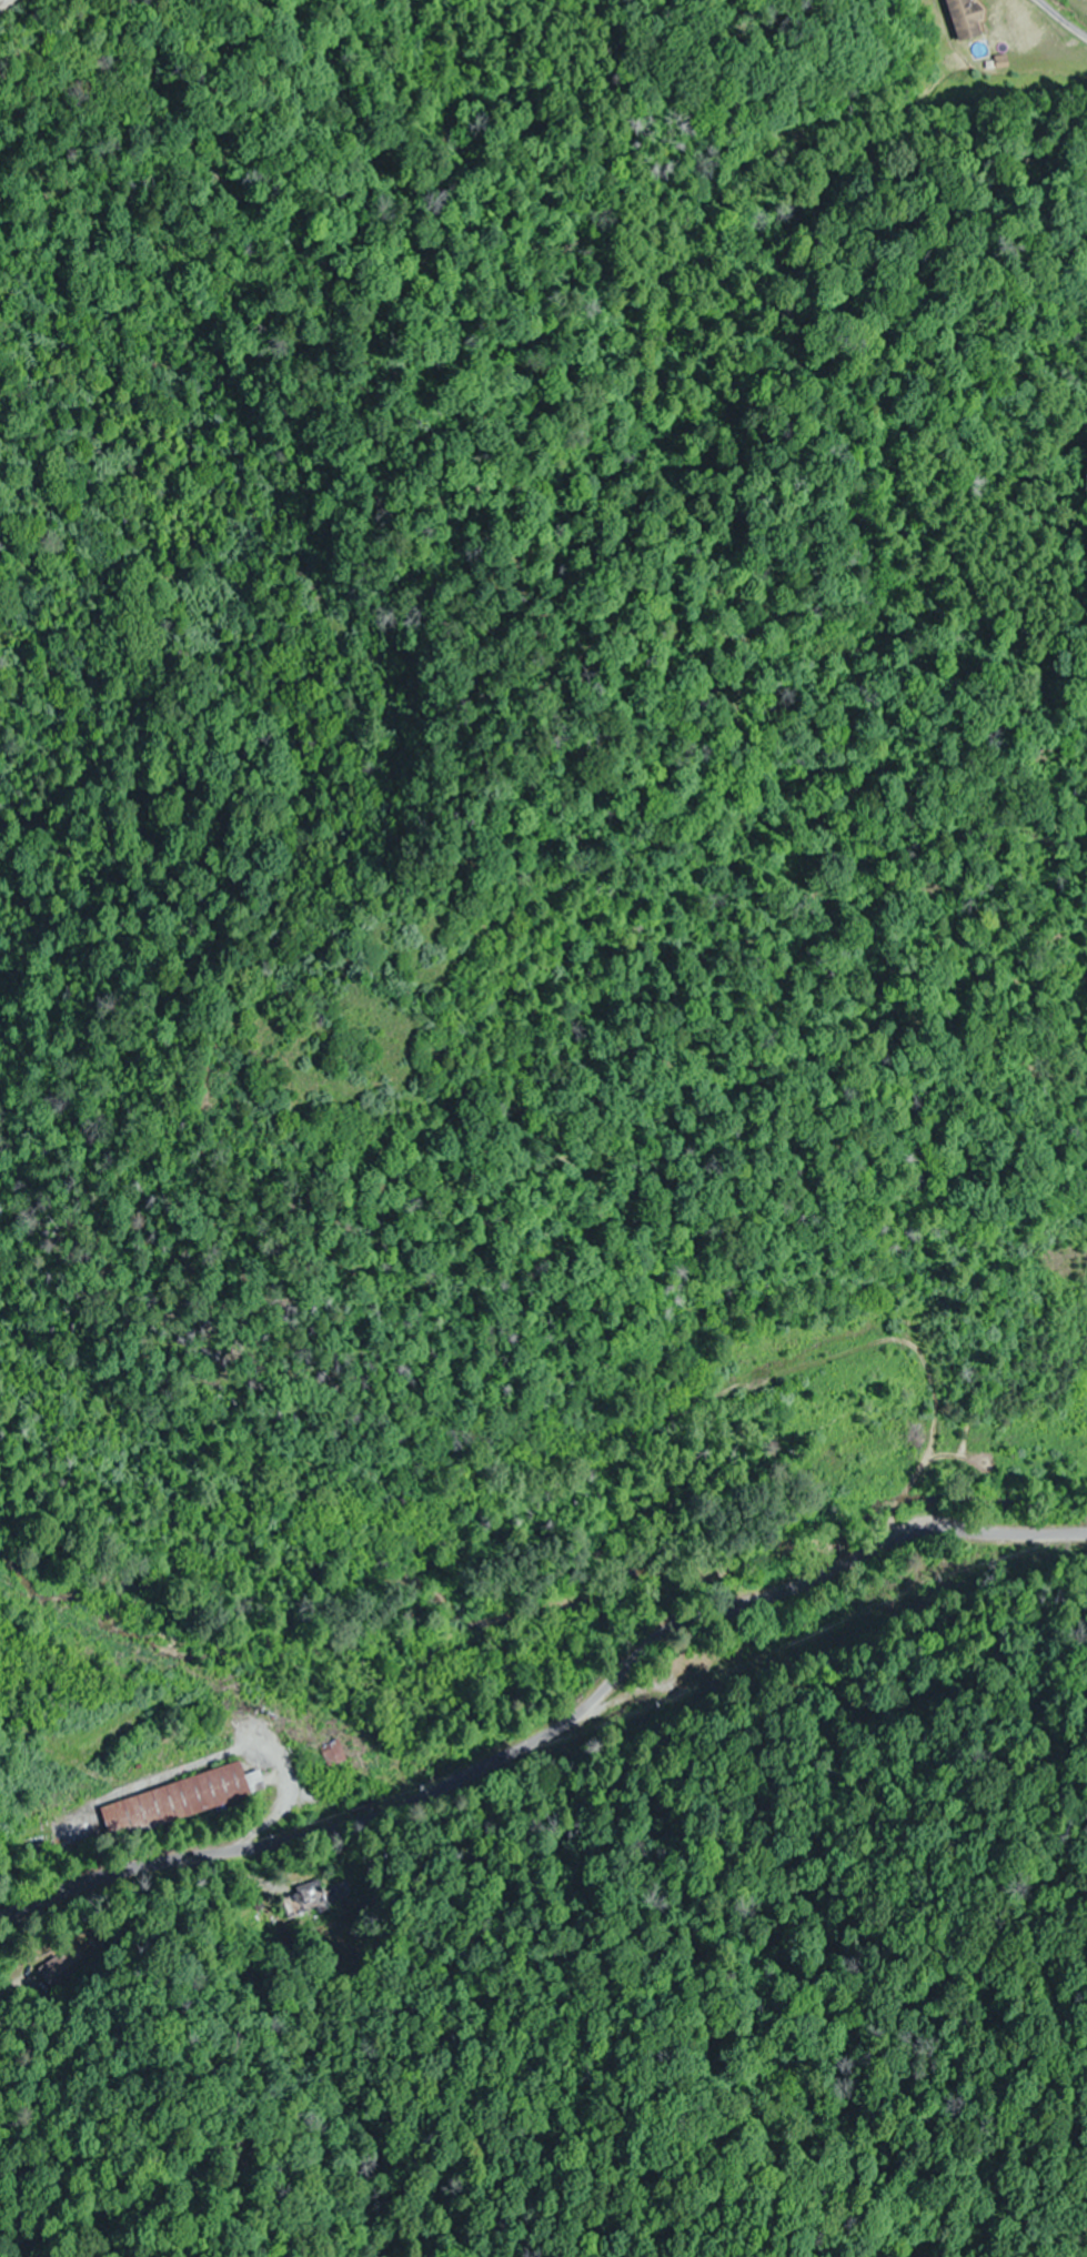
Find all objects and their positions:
building: (966, 20)
building: (704, 1680)
road: (552, 1729)
building: (335, 1755)
building: (182, 1801)
building: (305, 1904)

